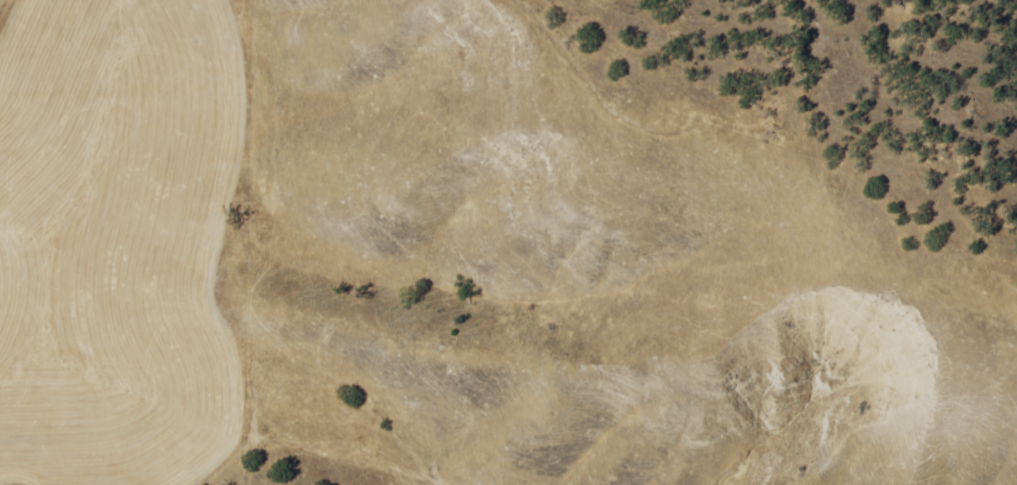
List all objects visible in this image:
road: (28, 11)

